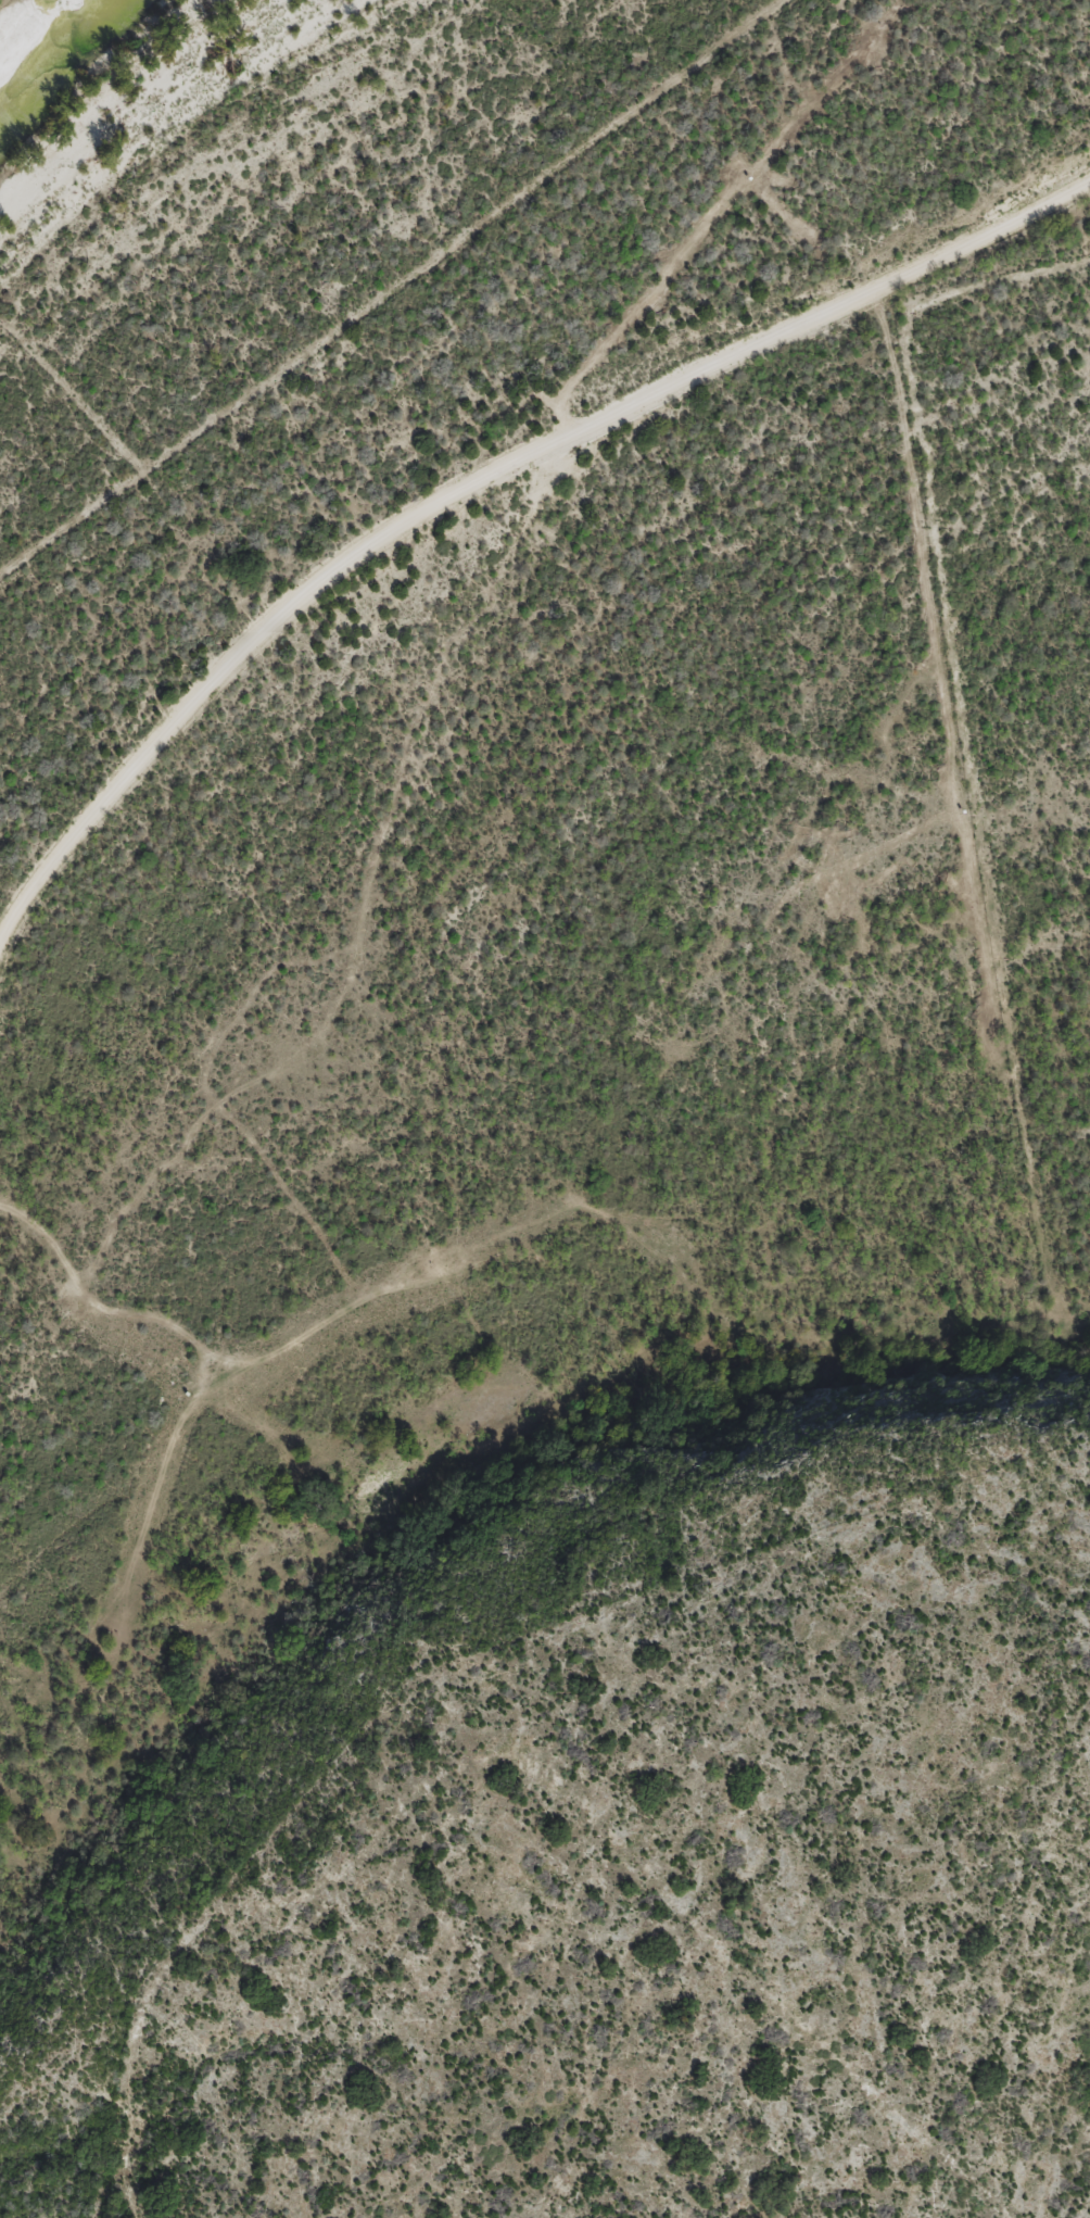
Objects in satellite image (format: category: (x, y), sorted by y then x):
road: (482, 479)

